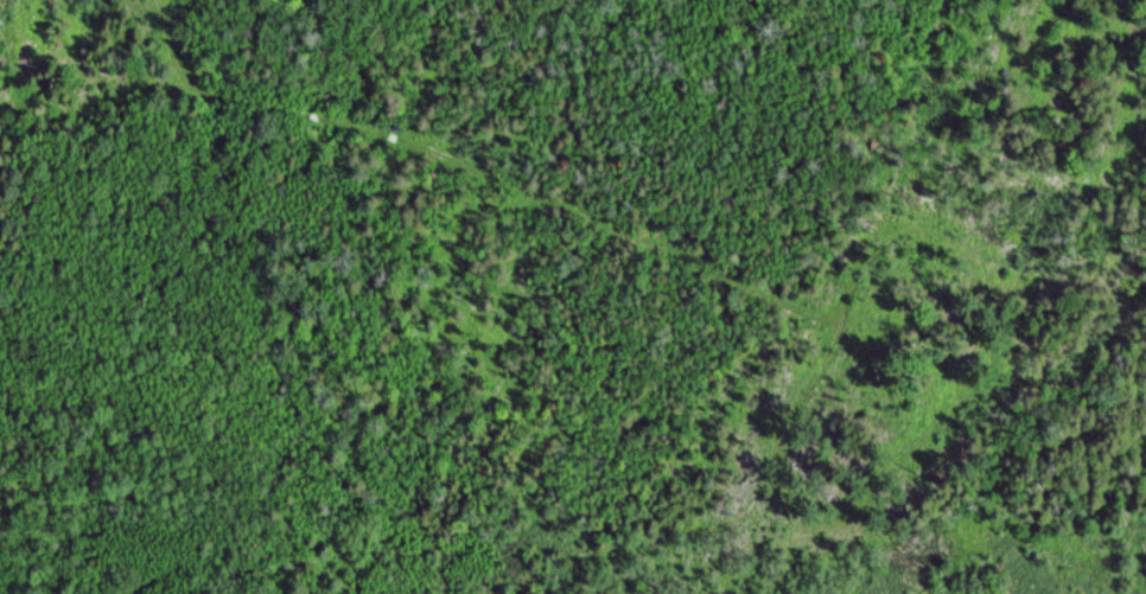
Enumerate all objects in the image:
road: (648, 248)

